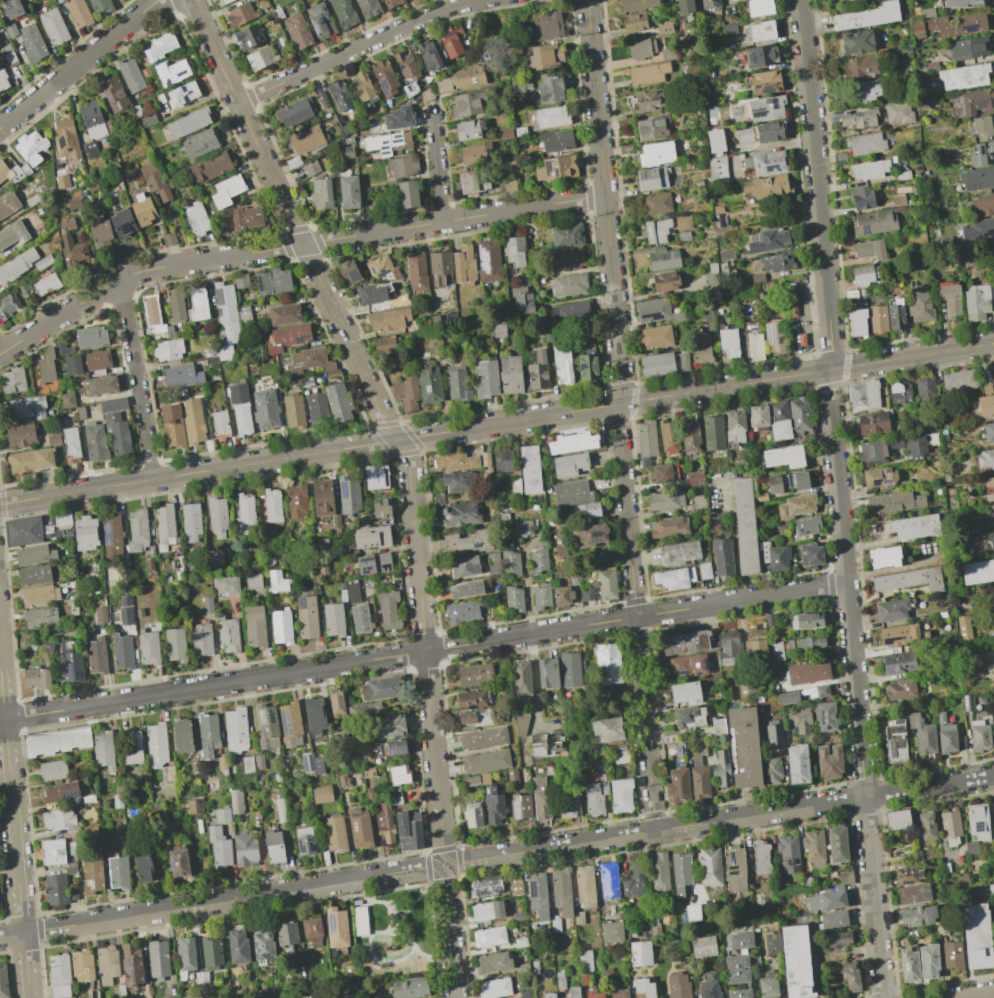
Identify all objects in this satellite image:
building: (27, 0)
building: (253, 0)
building: (57, 1)
building: (855, 1)
building: (222, 2)
building: (262, 3)
building: (391, 3)
building: (958, 3)
building: (636, 4)
building: (710, 4)
building: (100, 5)
building: (683, 6)
building: (759, 7)
building: (368, 8)
building: (12, 9)
rooftop solar panel: (324, 9)
building: (927, 12)
building: (77, 13)
building: (277, 13)
building: (343, 13)
building: (239, 14)
building: (866, 16)
building: (320, 20)
rooftop solar panel: (326, 20)
rooftop solar panel: (322, 21)
building: (636, 22)
building: (957, 24)
building: (548, 25)
building: (53, 26)
rooftop solar panel: (315, 26)
building: (664, 27)
rooftop solar panel: (968, 27)
building: (10, 29)
building: (729, 29)
building: (916, 29)
building: (761, 30)
building: (297, 31)
building: (247, 36)
building: (451, 41)
building: (858, 41)
building: (32, 43)
building: (159, 46)
road: (360, 47)
building: (639, 48)
building: (967, 48)
building: (667, 54)
building: (427, 55)
building: (545, 56)
building: (760, 56)
building: (260, 58)
building: (10, 59)
road: (79, 63)
building: (406, 65)
building: (932, 65)
building: (860, 66)
building: (171, 72)
building: (647, 73)
building: (130, 75)
building: (963, 76)
building: (384, 77)
building: (460, 78)
building: (2, 79)
rooftop solar panel: (547, 82)
building: (763, 82)
building: (363, 86)
rooftop solar panel: (383, 86)
building: (519, 86)
building: (409, 88)
building: (549, 89)
building: (865, 89)
rooftop solar panel: (766, 90)
building: (183, 93)
building: (114, 94)
building: (339, 95)
rooftop solar panel: (107, 96)
building: (322, 99)
rooftop solar panel: (773, 99)
rooftop solar panel: (766, 100)
building: (649, 101)
building: (972, 102)
building: (468, 104)
rooftop solar panel: (773, 105)
rooftop solar panel: (118, 106)
building: (922, 106)
building: (765, 108)
building: (292, 113)
building: (898, 113)
building: (548, 116)
building: (398, 117)
building: (855, 118)
building: (91, 119)
building: (147, 120)
building: (188, 123)
building: (982, 125)
building: (651, 129)
building: (467, 130)
building: (519, 130)
building: (504, 133)
building: (760, 133)
rooftop solar panel: (397, 136)
building: (65, 137)
building: (306, 140)
building: (556, 140)
building: (714, 140)
rooftop solar panel: (397, 141)
building: (388, 142)
building: (198, 143)
rooftop solar panel: (384, 143)
building: (864, 143)
building: (29, 147)
rooftop solar panel: (383, 148)
building: (89, 150)
building: (345, 152)
building: (473, 152)
rooftop solar panel: (385, 153)
building: (654, 153)
building: (981, 153)
building: (767, 163)
rooftop solar panel: (758, 164)
building: (401, 166)
rooftop solar panel: (546, 166)
rooftop solar panel: (771, 166)
building: (210, 167)
building: (310, 167)
road: (439, 167)
building: (556, 168)
building: (25, 169)
building: (716, 169)
building: (868, 169)
building: (10, 173)
rooftop solar panel: (554, 173)
building: (902, 175)
building: (651, 178)
building: (977, 178)
building: (154, 180)
building: (61, 182)
building: (471, 183)
building: (508, 184)
road: (816, 184)
building: (765, 186)
building: (225, 191)
building: (348, 192)
building: (321, 193)
building: (407, 194)
building: (862, 198)
building: (32, 200)
building: (897, 200)
building: (75, 203)
building: (655, 203)
building: (7, 204)
building: (983, 204)
rooftop solar panel: (861, 205)
building: (143, 209)
building: (196, 218)
building: (245, 218)
rooftop solar panel: (871, 218)
building: (873, 222)
building: (70, 223)
building: (122, 223)
rooftop solar panel: (865, 227)
building: (663, 228)
building: (977, 229)
building: (100, 231)
building: (12, 233)
building: (566, 235)
building: (684, 236)
building: (168, 238)
building: (921, 238)
building: (768, 240)
building: (942, 241)
road: (291, 245)
building: (122, 249)
building: (868, 249)
building: (513, 250)
building: (74, 254)
building: (725, 255)
building: (567, 258)
building: (663, 259)
rooftop solar panel: (482, 261)
building: (488, 261)
building: (42, 262)
building: (777, 262)
building: (16, 265)
building: (463, 265)
building: (381, 267)
building: (438, 267)
building: (347, 270)
building: (416, 272)
building: (865, 273)
building: (756, 278)
building: (240, 281)
building: (273, 281)
building: (665, 281)
building: (46, 284)
building: (568, 284)
building: (371, 294)
rooftop solar panel: (220, 295)
building: (948, 298)
building: (992, 298)
building: (521, 299)
building: (399, 301)
building: (976, 302)
building: (197, 304)
building: (174, 305)
building: (920, 305)
building: (8, 306)
building: (791, 309)
building: (571, 311)
building: (657, 311)
building: (226, 312)
building: (894, 313)
building: (244, 314)
building: (283, 314)
building: (154, 315)
building: (706, 315)
building: (387, 319)
building: (434, 319)
building: (877, 319)
building: (856, 321)
building: (498, 329)
rooftop solar panel: (768, 333)
building: (773, 335)
building: (90, 337)
building: (288, 337)
building: (654, 337)
rooftop solar panel: (300, 338)
building: (800, 339)
rooftop solar panel: (780, 341)
building: (727, 342)
building: (383, 344)
building: (753, 346)
building: (61, 348)
building: (167, 349)
building: (700, 349)
building: (208, 352)
building: (224, 352)
building: (312, 358)
building: (95, 360)
building: (211, 361)
building: (683, 361)
building: (561, 363)
building: (656, 364)
building: (72, 365)
rooftop solar panel: (580, 366)
building: (45, 367)
building: (587, 367)
building: (537, 372)
building: (510, 374)
building: (992, 374)
building: (181, 376)
building: (485, 378)
building: (12, 380)
road: (136, 380)
building: (958, 380)
road: (830, 383)
building: (456, 384)
building: (101, 385)
building: (428, 385)
building: (924, 387)
building: (406, 393)
building: (898, 393)
building: (863, 395)
building: (67, 400)
building: (338, 402)
building: (112, 404)
building: (985, 406)
building: (24, 408)
building: (240, 408)
building: (265, 409)
building: (317, 409)
building: (293, 411)
building: (80, 412)
road: (381, 414)
road: (619, 415)
building: (798, 415)
building: (758, 417)
building: (192, 420)
building: (778, 420)
building: (872, 422)
road: (496, 423)
building: (219, 424)
building: (171, 426)
building: (734, 428)
building: (712, 432)
building: (988, 432)
building: (117, 433)
building: (20, 435)
building: (689, 435)
building: (668, 437)
building: (646, 438)
building: (53, 439)
building: (94, 441)
building: (572, 443)
building: (916, 444)
building: (70, 445)
building: (876, 449)
building: (783, 456)
building: (485, 459)
building: (985, 459)
building: (30, 460)
building: (455, 461)
building: (502, 461)
building: (569, 464)
building: (529, 469)
building: (661, 473)
rooftop solar panel: (886, 473)
building: (376, 477)
building: (878, 477)
building: (694, 478)
building: (797, 480)
building: (458, 481)
rooftop solar panel: (873, 481)
building: (989, 483)
building: (773, 484)
rooftop solar panel: (886, 484)
rooftop solar panel: (343, 487)
building: (950, 491)
building: (571, 492)
building: (348, 495)
rooftop solar panel: (345, 496)
building: (322, 497)
building: (665, 500)
building: (296, 501)
building: (698, 501)
building: (893, 502)
building: (272, 506)
building: (796, 506)
building: (992, 509)
building: (381, 510)
building: (585, 510)
building: (244, 513)
building: (460, 514)
building: (216, 516)
building: (62, 518)
building: (190, 521)
building: (335, 521)
building: (561, 523)
building: (164, 524)
building: (743, 525)
building: (806, 525)
building: (668, 526)
building: (914, 526)
building: (522, 528)
rooftop solar panel: (105, 529)
building: (25, 530)
building: (137, 530)
building: (85, 533)
rooftop solar panel: (603, 534)
building: (111, 535)
building: (588, 535)
building: (370, 536)
building: (990, 539)
rooftop solar panel: (109, 541)
rooftop solar panel: (594, 541)
building: (467, 542)
building: (559, 545)
building: (679, 552)
building: (34, 554)
building: (809, 554)
building: (774, 556)
building: (883, 556)
building: (215, 557)
rooftop solar panel: (364, 557)
building: (721, 558)
building: (538, 559)
building: (373, 563)
building: (493, 563)
building: (510, 563)
building: (171, 564)
building: (149, 565)
building: (464, 566)
road: (891, 568)
building: (322, 569)
building: (704, 571)
building: (977, 571)
rooftop solar panel: (365, 573)
building: (33, 574)
building: (673, 577)
building: (577, 579)
building: (908, 579)
building: (252, 581)
building: (276, 581)
building: (993, 584)
building: (226, 585)
building: (606, 585)
building: (465, 589)
building: (352, 591)
building: (37, 595)
building: (561, 595)
building: (587, 595)
building: (541, 596)
building: (513, 598)
rooftop solar panel: (302, 602)
building: (207, 605)
building: (72, 608)
building: (125, 609)
building: (891, 609)
building: (388, 610)
building: (462, 610)
building: (139, 612)
building: (100, 614)
building: (306, 615)
building: (40, 617)
building: (359, 618)
building: (333, 619)
building: (768, 620)
building: (806, 620)
building: (254, 626)
building: (281, 626)
building: (963, 627)
building: (898, 633)
building: (226, 634)
building: (201, 639)
building: (683, 642)
building: (174, 644)
building: (805, 644)
building: (755, 645)
building: (149, 647)
building: (729, 647)
building: (50, 648)
building: (121, 651)
building: (775, 651)
road: (423, 652)
building: (96, 655)
building: (70, 659)
building: (970, 659)
building: (607, 660)
building: (898, 662)
building: (687, 665)
building: (569, 669)
building: (547, 672)
building: (807, 672)
building: (474, 675)
building: (520, 677)
building: (36, 678)
building: (380, 688)
building: (900, 689)
building: (684, 691)
building: (815, 691)
building: (787, 697)
road: (855, 697)
building: (471, 699)
building: (336, 701)
building: (967, 703)
building: (363, 711)
building: (314, 715)
building: (825, 715)
rooftop solar panel: (259, 716)
building: (466, 717)
building: (688, 717)
rooftop solar panel: (270, 718)
rooftop solar panel: (822, 718)
building: (800, 719)
building: (520, 720)
building: (289, 724)
rooftop solar panel: (284, 725)
building: (389, 726)
building: (718, 726)
building: (266, 727)
building: (605, 729)
building: (235, 730)
building: (773, 733)
building: (946, 733)
building: (207, 734)
building: (922, 734)
building: (979, 734)
building: (181, 735)
building: (482, 738)
building: (55, 740)
building: (895, 741)
building: (546, 743)
building: (156, 744)
rooftop solar panel: (891, 744)
building: (743, 746)
building: (396, 747)
building: (132, 748)
building: (678, 748)
building: (103, 750)
building: (621, 756)
building: (258, 761)
building: (485, 761)
building: (829, 761)
building: (306, 762)
rooftop solar panel: (310, 762)
building: (221, 763)
building: (797, 763)
building: (247, 764)
rooftop solar panel: (305, 764)
building: (317, 765)
building: (680, 766)
building: (721, 768)
building: (51, 770)
building: (771, 770)
building: (368, 772)
building: (167, 774)
building: (399, 774)
building: (511, 774)
building: (485, 778)
building: (698, 779)
building: (343, 780)
building: (471, 780)
building: (677, 785)
building: (60, 792)
building: (368, 793)
building: (321, 794)
building: (620, 795)
rooftop solar panel: (71, 796)
building: (594, 797)
building: (87, 798)
building: (540, 798)
building: (117, 801)
building: (568, 801)
building: (235, 802)
building: (492, 804)
building: (194, 806)
building: (279, 807)
rooftop solar panel: (512, 807)
building: (520, 807)
building: (993, 813)
building: (472, 815)
building: (222, 816)
building: (57, 819)
road: (722, 820)
building: (897, 820)
building: (978, 821)
building: (384, 823)
building: (926, 825)
road: (14, 826)
building: (950, 827)
building: (359, 828)
building: (73, 829)
building: (408, 831)
building: (334, 834)
building: (304, 840)
building: (836, 845)
building: (273, 847)
building: (814, 847)
building: (970, 847)
building: (74, 848)
building: (218, 848)
building: (244, 849)
building: (51, 852)
building: (788, 853)
building: (760, 857)
building: (177, 860)
rooftop solar panel: (173, 862)
road: (445, 865)
building: (143, 866)
building: (708, 866)
building: (734, 869)
building: (117, 872)
building: (679, 872)
building: (659, 873)
building: (91, 876)
building: (907, 876)
building: (845, 877)
building: (633, 880)
building: (608, 882)
rooftop solar panel: (90, 883)
building: (584, 885)
building: (57, 886)
building: (484, 887)
building: (515, 888)
building: (561, 892)
building: (73, 893)
building: (913, 894)
building: (537, 895)
building: (826, 900)
road: (219, 901)
building: (487, 910)
building: (692, 912)
building: (517, 916)
building: (917, 916)
building: (578, 918)
building: (831, 919)
building: (360, 920)
rooftop solar panel: (331, 924)
building: (555, 924)
building: (336, 927)
building: (611, 931)
building: (312, 932)
building: (286, 933)
road: (451, 933)
building: (488, 936)
building: (976, 936)
building: (837, 939)
building: (739, 940)
building: (520, 942)
building: (262, 943)
building: (771, 943)
building: (237, 946)
building: (702, 947)
rooftop solar panel: (256, 951)
building: (211, 952)
building: (639, 953)
building: (186, 954)
rooftop solar panel: (637, 954)
rooftop solar panel: (267, 956)
building: (952, 956)
building: (157, 959)
building: (583, 960)
building: (796, 961)
building: (928, 961)
building: (492, 962)
building: (107, 963)
building: (83, 965)
building: (131, 965)
building: (908, 965)
rooftop solar panel: (129, 966)
building: (522, 968)
building: (735, 969)
building: (607, 973)
building: (61, 975)
building: (200, 977)
building: (850, 977)
rooftop solar panel: (132, 978)
building: (582, 979)
building: (560, 981)
building: (3, 982)
building: (766, 984)
building: (678, 986)
building: (708, 986)
building: (409, 988)
building: (494, 988)
building: (642, 988)
building: (573, 992)
building: (525, 993)
building: (618, 993)
building: (738, 993)
building: (548, 995)
building: (594, 995)
road: (978, 995)
building: (189, 996)
building: (171, 997)

